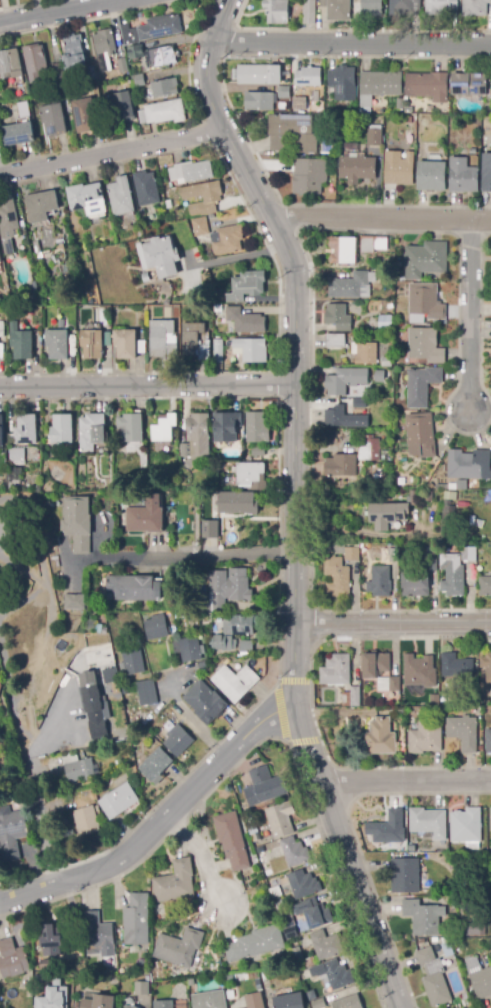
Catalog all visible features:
building: (439, 6)
building: (371, 7)
building: (405, 7)
building: (475, 7)
building: (337, 9)
building: (276, 11)
road: (62, 12)
building: (309, 12)
building: (151, 30)
road: (352, 43)
building: (104, 49)
building: (131, 52)
building: (73, 53)
building: (160, 57)
building: (34, 62)
building: (9, 63)
building: (122, 66)
building: (59, 72)
building: (90, 73)
building: (259, 75)
building: (308, 77)
building: (342, 77)
building: (137, 80)
building: (381, 83)
building: (469, 85)
building: (428, 86)
building: (163, 89)
building: (265, 98)
building: (120, 106)
building: (441, 107)
building: (297, 109)
building: (372, 109)
building: (23, 110)
building: (165, 112)
building: (391, 112)
building: (84, 116)
building: (53, 120)
building: (408, 120)
building: (430, 120)
building: (18, 134)
building: (290, 134)
building: (374, 137)
building: (472, 152)
road: (113, 154)
building: (355, 167)
building: (398, 168)
building: (191, 171)
building: (486, 173)
building: (308, 174)
building: (432, 176)
building: (462, 176)
building: (145, 188)
building: (211, 198)
building: (86, 199)
building: (121, 199)
building: (41, 205)
building: (8, 216)
road: (381, 218)
building: (198, 226)
building: (226, 240)
building: (372, 243)
building: (342, 250)
building: (159, 254)
road: (235, 257)
building: (424, 258)
building: (0, 261)
building: (145, 278)
building: (245, 284)
building: (347, 284)
building: (422, 302)
building: (215, 308)
road: (469, 314)
building: (336, 316)
building: (244, 319)
building: (62, 323)
building: (385, 323)
building: (1, 332)
building: (105, 338)
building: (161, 339)
building: (196, 340)
building: (334, 340)
building: (20, 342)
building: (57, 344)
building: (91, 344)
building: (125, 344)
building: (424, 345)
building: (141, 347)
building: (249, 349)
building: (363, 352)
building: (219, 354)
building: (386, 362)
building: (379, 376)
building: (343, 379)
road: (147, 386)
building: (422, 386)
building: (359, 403)
building: (344, 418)
building: (226, 426)
building: (130, 428)
building: (256, 428)
building: (1, 429)
building: (61, 429)
building: (164, 429)
building: (25, 430)
building: (91, 431)
building: (197, 432)
building: (421, 435)
building: (369, 448)
building: (258, 451)
building: (16, 455)
building: (214, 457)
building: (383, 458)
building: (467, 464)
building: (340, 465)
building: (404, 467)
building: (251, 476)
building: (13, 479)
building: (402, 480)
building: (430, 486)
building: (453, 486)
building: (34, 489)
building: (429, 497)
building: (414, 498)
road: (293, 500)
building: (236, 503)
building: (387, 515)
building: (146, 516)
building: (448, 517)
building: (77, 523)
building: (210, 529)
road: (36, 532)
road: (310, 536)
building: (428, 549)
building: (351, 554)
building: (469, 554)
building: (393, 555)
road: (183, 558)
building: (431, 565)
road: (23, 571)
building: (335, 575)
building: (452, 575)
building: (379, 582)
building: (415, 584)
building: (485, 586)
building: (132, 588)
building: (227, 588)
building: (75, 602)
building: (94, 625)
building: (240, 625)
road: (393, 626)
building: (156, 629)
building: (218, 643)
building: (246, 646)
building: (190, 650)
building: (98, 656)
building: (131, 663)
building: (375, 665)
building: (456, 666)
building: (486, 666)
building: (336, 670)
building: (419, 671)
building: (112, 674)
building: (235, 682)
building: (0, 684)
building: (394, 684)
building: (147, 693)
building: (355, 696)
road: (310, 697)
building: (433, 700)
building: (205, 701)
building: (93, 705)
road: (281, 712)
road: (188, 717)
building: (464, 732)
building: (3, 735)
building: (122, 735)
road: (29, 738)
building: (380, 738)
building: (424, 741)
building: (488, 741)
building: (178, 742)
building: (69, 749)
building: (155, 764)
building: (78, 769)
road: (404, 781)
building: (264, 787)
building: (94, 798)
building: (119, 801)
road: (152, 807)
road: (312, 812)
building: (490, 816)
building: (281, 819)
building: (86, 821)
building: (428, 822)
road: (161, 823)
road: (176, 825)
building: (466, 826)
building: (389, 828)
building: (254, 832)
building: (12, 834)
road: (354, 838)
building: (232, 840)
building: (411, 850)
building: (294, 852)
road: (205, 854)
building: (261, 855)
building: (487, 861)
building: (405, 875)
building: (175, 882)
building: (303, 884)
building: (248, 886)
road: (89, 887)
building: (275, 892)
building: (459, 904)
building: (279, 905)
building: (314, 913)
building: (422, 917)
building: (137, 920)
building: (475, 930)
building: (289, 934)
building: (98, 936)
building: (51, 941)
building: (255, 944)
building: (326, 945)
building: (178, 948)
building: (447, 950)
building: (297, 955)
building: (12, 959)
building: (309, 962)
building: (48, 964)
building: (335, 974)
building: (433, 978)
building: (190, 982)
building: (482, 983)
building: (142, 989)
building: (311, 995)
building: (53, 998)
building: (209, 1000)
building: (254, 1000)
building: (289, 1001)
building: (99, 1002)
building: (348, 1002)
building: (318, 1003)
building: (163, 1004)
building: (132, 1007)

